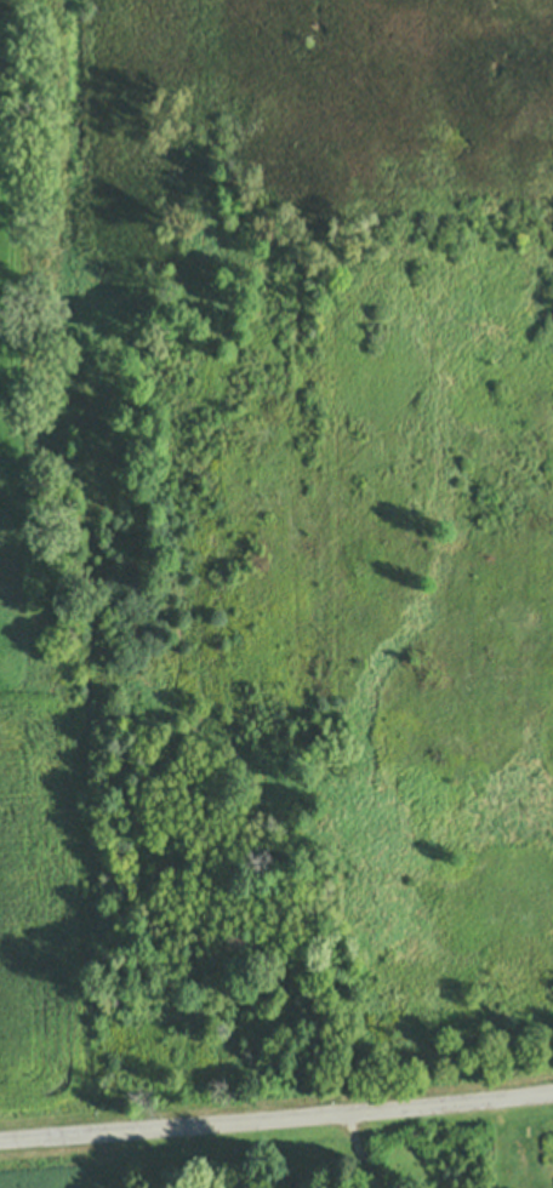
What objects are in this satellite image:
road: (276, 1119)

